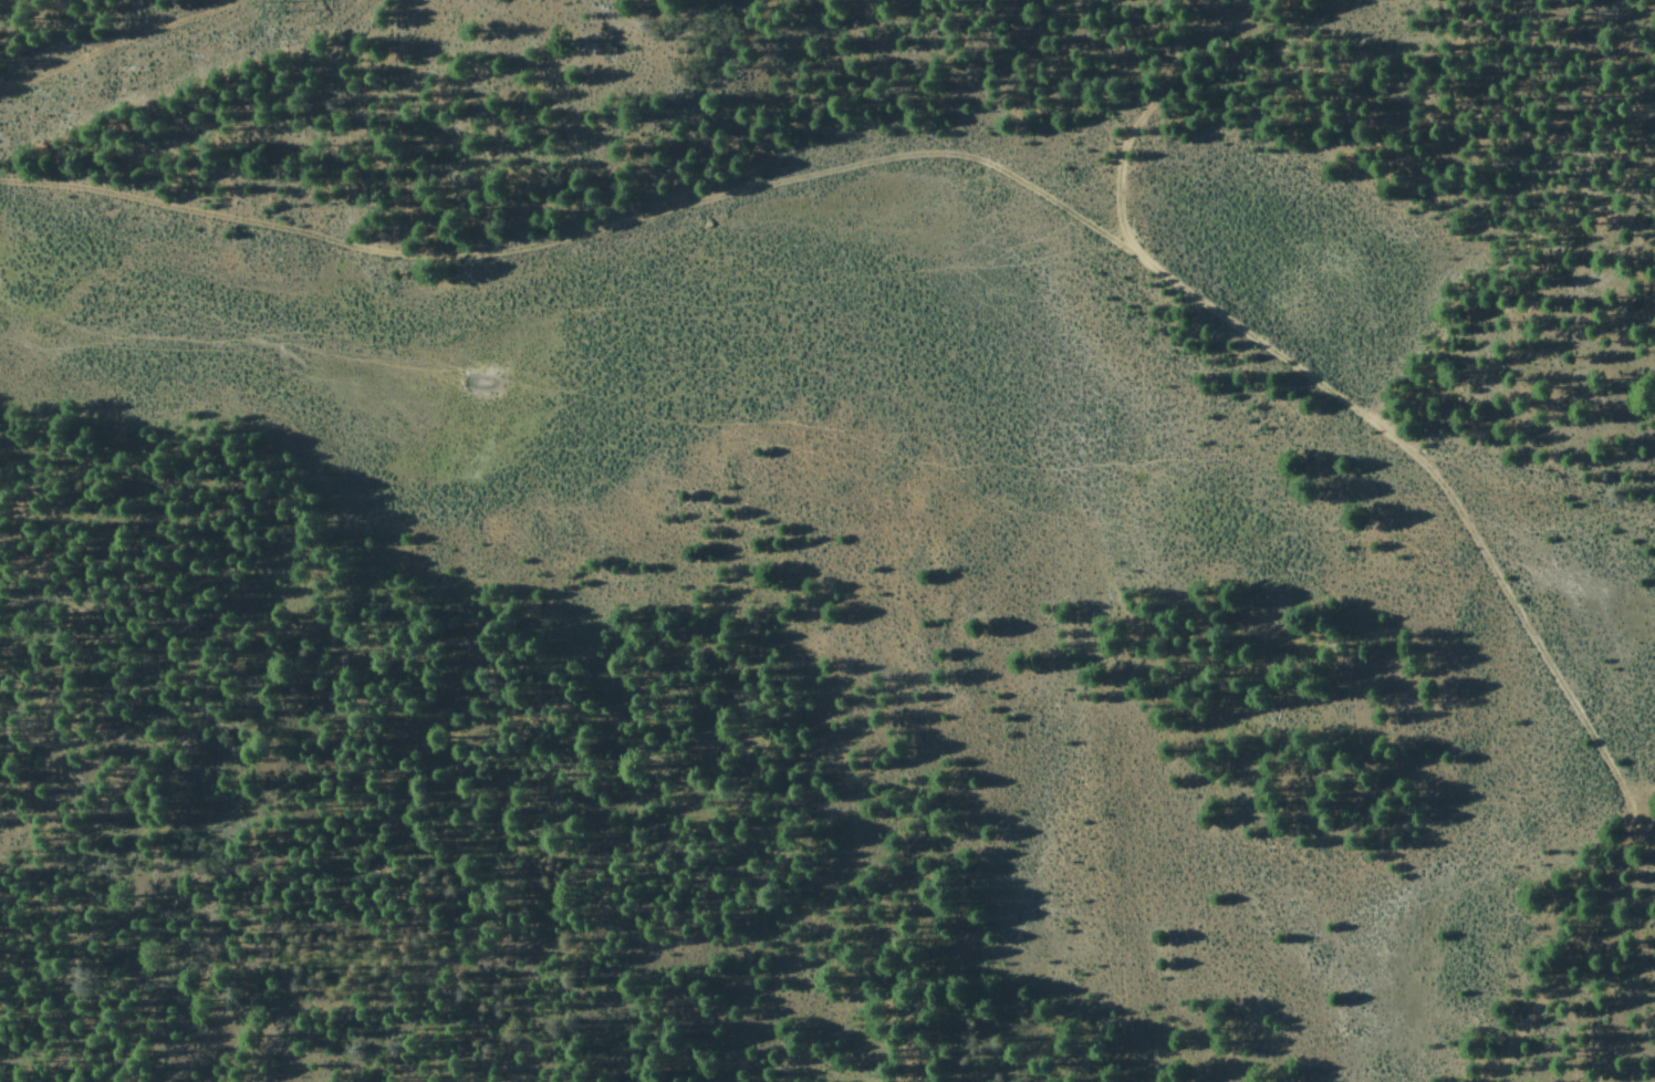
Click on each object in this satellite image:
power tower: (269, 11)
road: (863, 333)

